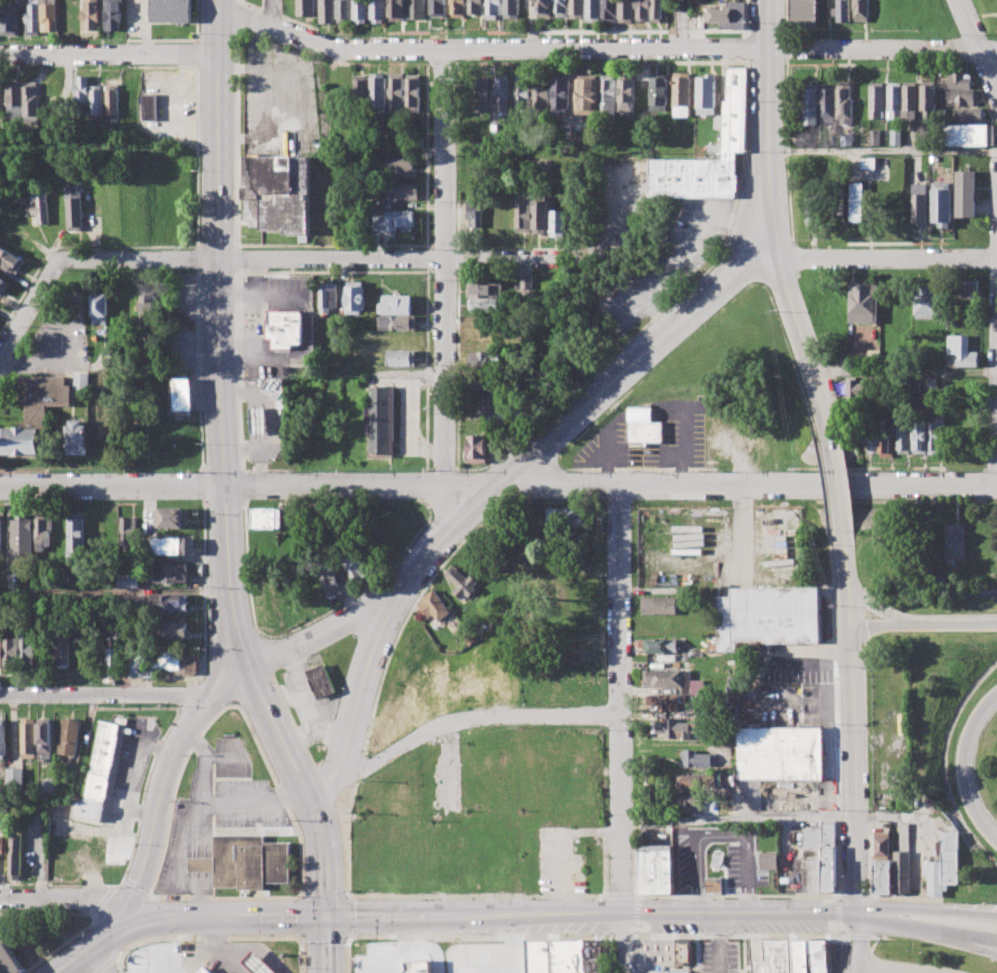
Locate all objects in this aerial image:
road: (246, 3)
building: (477, 6)
building: (306, 7)
building: (439, 8)
building: (459, 8)
building: (512, 8)
building: (545, 8)
building: (562, 8)
building: (578, 8)
building: (417, 9)
building: (495, 9)
building: (658, 9)
building: (378, 10)
building: (397, 10)
building: (594, 10)
building: (610, 10)
building: (627, 10)
building: (643, 10)
building: (841, 10)
building: (861, 10)
building: (172, 11)
building: (327, 11)
building: (344, 11)
building: (361, 11)
building: (804, 13)
building: (92, 14)
building: (113, 14)
building: (50, 15)
building: (10, 16)
building: (34, 17)
road: (245, 17)
road: (283, 17)
building: (728, 17)
road: (748, 18)
road: (672, 23)
road: (978, 44)
road: (605, 47)
road: (748, 47)
road: (109, 53)
building: (954, 80)
building: (359, 90)
building: (82, 91)
building: (376, 92)
building: (395, 92)
building: (502, 92)
building: (523, 92)
building: (542, 92)
building: (659, 92)
building: (588, 93)
building: (628, 93)
building: (412, 94)
building: (481, 94)
building: (561, 94)
building: (682, 94)
building: (706, 94)
building: (610, 95)
building: (1, 97)
building: (15, 97)
building: (32, 97)
building: (958, 98)
road: (280, 99)
building: (876, 100)
building: (909, 100)
parking lot: (277, 101)
road: (768, 101)
building: (892, 101)
building: (926, 101)
building: (98, 102)
building: (825, 102)
building: (114, 103)
building: (842, 103)
building: (809, 104)
building: (150, 107)
building: (966, 115)
building: (734, 126)
road: (238, 135)
building: (968, 135)
building: (874, 137)
building: (895, 137)
building: (845, 139)
building: (414, 142)
road: (882, 149)
building: (869, 163)
building: (393, 166)
building: (397, 192)
building: (965, 193)
building: (281, 195)
building: (858, 201)
building: (941, 203)
building: (921, 204)
building: (42, 207)
building: (76, 209)
building: (813, 209)
building: (475, 213)
building: (540, 213)
building: (523, 214)
building: (390, 220)
building: (558, 223)
road: (765, 229)
road: (422, 245)
road: (427, 247)
road: (880, 256)
road: (321, 257)
road: (238, 258)
road: (427, 258)
building: (11, 260)
road: (780, 276)
building: (525, 281)
building: (3, 285)
building: (964, 287)
building: (482, 289)
road: (445, 292)
building: (328, 297)
building: (355, 297)
building: (928, 300)
building: (863, 302)
building: (481, 303)
building: (395, 304)
road: (31, 306)
road: (668, 306)
building: (100, 308)
building: (396, 323)
building: (286, 329)
road: (220, 332)
building: (481, 338)
building: (961, 351)
building: (874, 357)
building: (401, 358)
building: (482, 358)
road: (631, 366)
road: (427, 369)
road: (238, 370)
road: (810, 372)
road: (904, 372)
building: (82, 381)
building: (931, 382)
building: (915, 384)
building: (511, 385)
building: (482, 386)
building: (275, 389)
building: (851, 390)
building: (179, 395)
building: (481, 398)
building: (491, 402)
building: (35, 412)
building: (259, 420)
gas station: (259, 420)
building: (378, 420)
building: (643, 425)
building: (869, 433)
building: (77, 437)
building: (918, 437)
building: (936, 437)
building: (903, 438)
building: (99, 439)
building: (887, 442)
building: (475, 449)
road: (684, 449)
road: (604, 461)
road: (498, 483)
road: (245, 485)
road: (427, 485)
road: (442, 487)
road: (836, 488)
road: (427, 503)
road: (223, 504)
road: (243, 504)
building: (563, 515)
building: (323, 516)
building: (171, 517)
building: (268, 517)
road: (742, 530)
building: (127, 531)
building: (0, 532)
building: (42, 533)
building: (75, 535)
building: (21, 540)
building: (956, 540)
building: (170, 545)
parking lot: (719, 546)
building: (356, 567)
building: (169, 573)
road: (849, 580)
building: (126, 581)
road: (428, 581)
building: (462, 582)
building: (330, 583)
road: (114, 590)
road: (202, 598)
road: (390, 601)
building: (171, 602)
building: (659, 605)
building: (436, 606)
building: (767, 616)
road: (304, 624)
road: (924, 625)
building: (171, 630)
road: (256, 630)
building: (659, 644)
building: (60, 648)
building: (0, 651)
building: (16, 651)
road: (262, 653)
building: (111, 658)
building: (134, 663)
road: (156, 678)
building: (661, 678)
building: (321, 681)
building: (500, 682)
building: (557, 690)
road: (104, 696)
road: (182, 696)
road: (617, 698)
building: (665, 701)
road: (357, 704)
road: (227, 706)
road: (453, 721)
road: (291, 722)
building: (387, 728)
building: (675, 729)
building: (545, 734)
building: (42, 737)
building: (27, 738)
building: (67, 738)
building: (1, 740)
building: (576, 742)
building: (780, 753)
building: (488, 755)
building: (506, 755)
road: (225, 756)
building: (698, 758)
building: (101, 761)
road: (318, 762)
road: (961, 765)
road: (205, 766)
road: (357, 769)
road: (168, 770)
road: (852, 770)
building: (13, 778)
building: (696, 780)
road: (324, 782)
road: (301, 785)
building: (565, 788)
road: (350, 791)
road: (143, 792)
building: (690, 801)
road: (254, 804)
parking lot: (215, 816)
road: (780, 817)
road: (345, 840)
building: (1, 844)
building: (879, 845)
building: (104, 851)
building: (13, 856)
building: (817, 857)
building: (765, 861)
road: (201, 862)
building: (243, 863)
building: (941, 866)
building: (655, 870)
building: (899, 873)
building: (879, 878)
road: (115, 885)
building: (711, 885)
road: (133, 889)
road: (619, 894)
road: (474, 895)
road: (734, 895)
road: (853, 896)
road: (66, 897)
road: (224, 897)
road: (903, 898)
road: (103, 899)
road: (128, 909)
road: (927, 909)
road: (738, 913)
road: (370, 916)
traffic signals: (326, 917)
road: (926, 929)
road: (346, 935)
road: (858, 940)
road: (988, 942)
road: (63, 943)
road: (619, 943)
road: (327, 944)
road: (91, 948)
road: (221, 949)
road: (301, 953)
road: (108, 954)
building: (795, 956)
building: (813, 956)
building: (158, 957)
building: (679, 957)
building: (770, 957)
building: (573, 958)
building: (8, 961)
building: (265, 963)
gas station: (265, 963)
road: (893, 968)
road: (857, 970)
building: (207, 971)
building: (657, 972)

